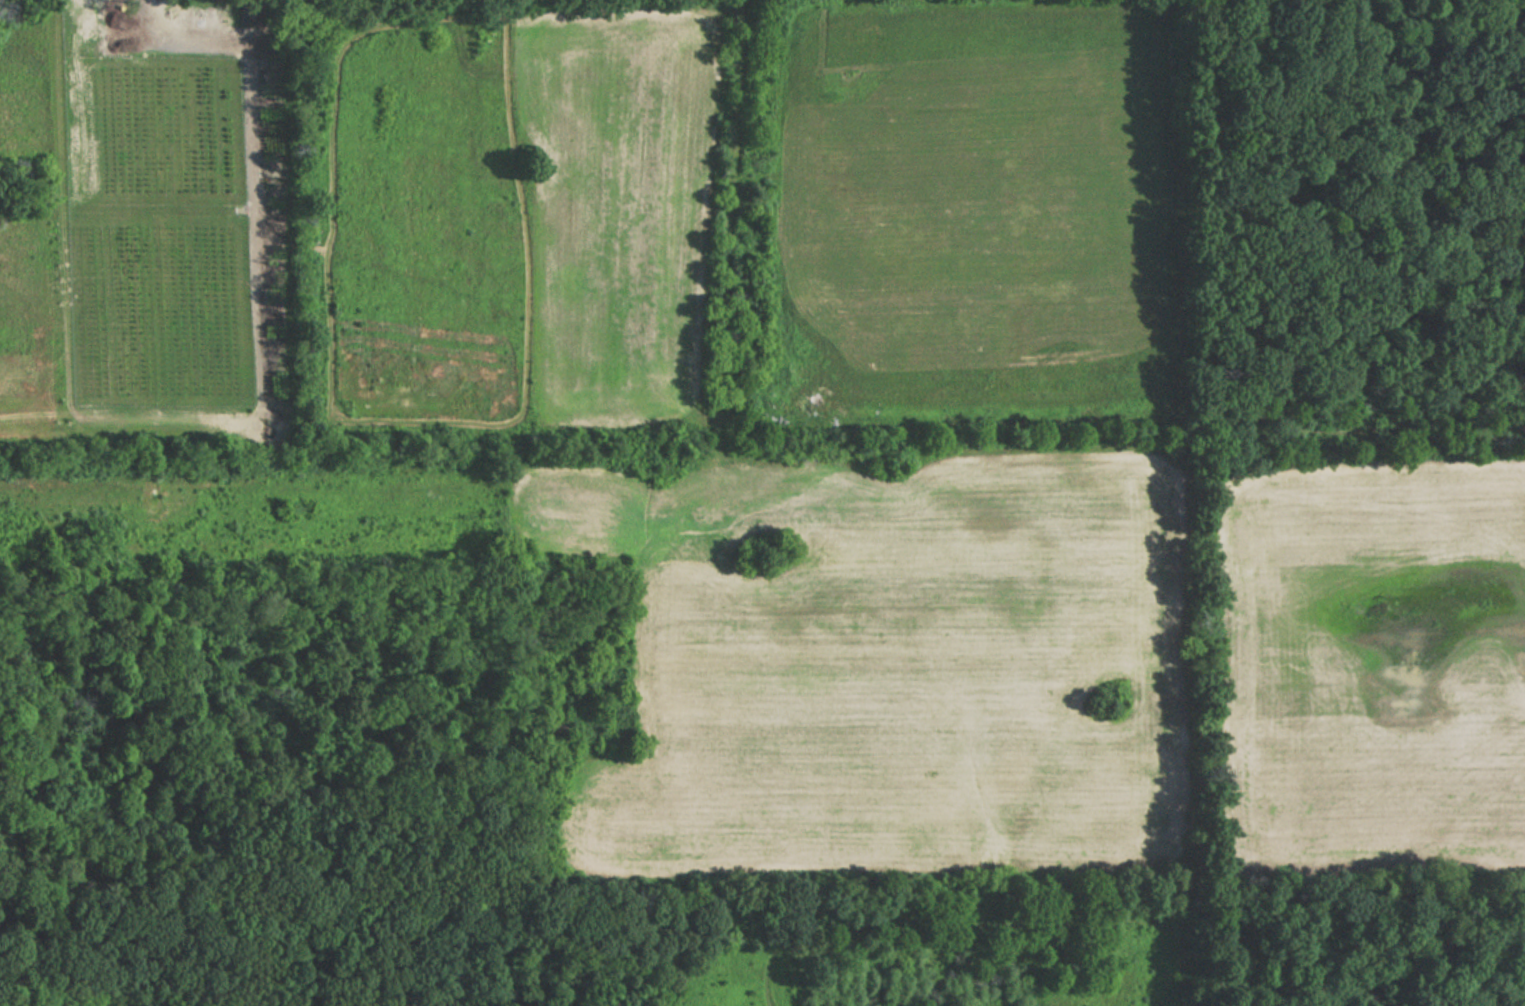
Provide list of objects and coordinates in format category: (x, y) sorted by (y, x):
road: (232, 51)
crop: (21, 95)
crop: (976, 202)
crop: (514, 219)
crop: (69, 326)
crop: (1373, 660)
crop: (888, 665)

